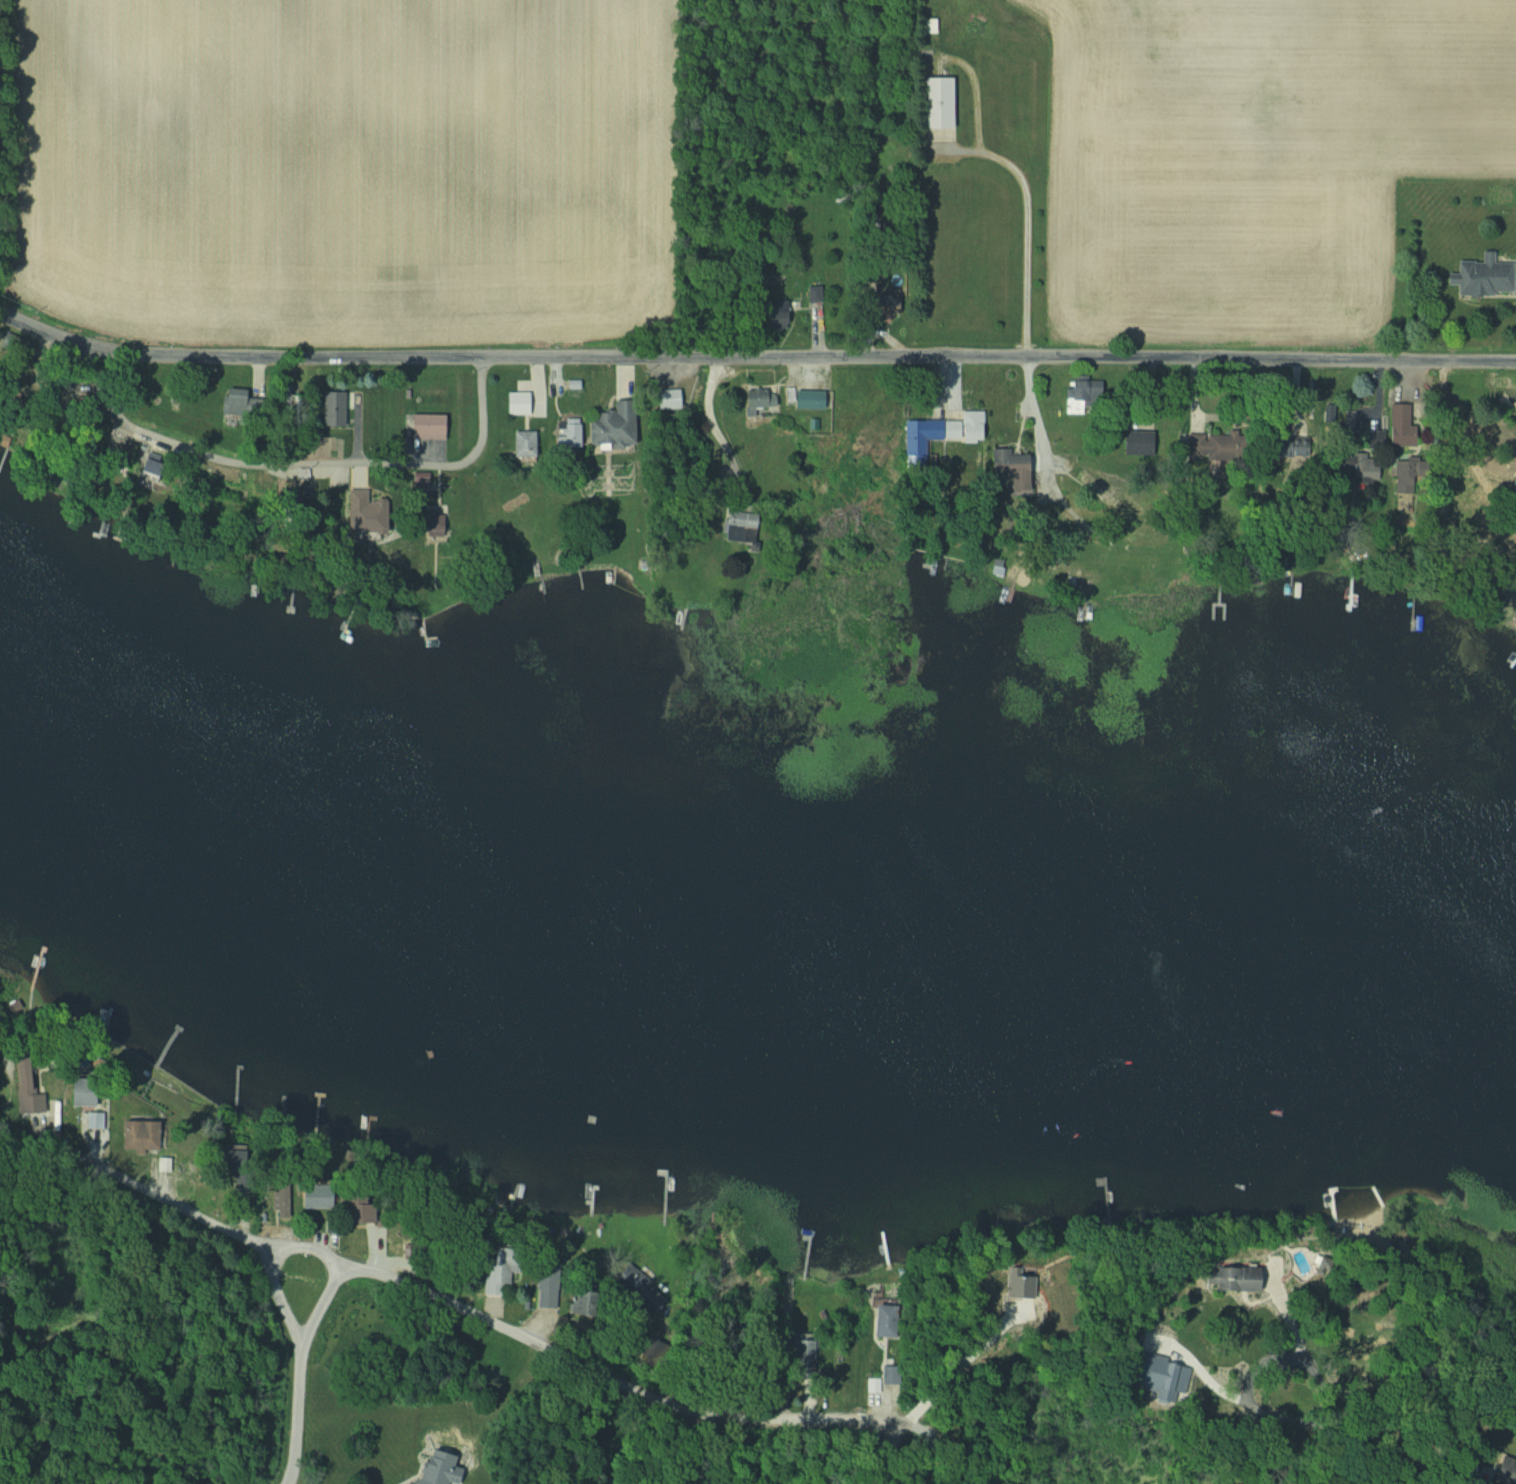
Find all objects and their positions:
building: (932, 25)
building: (944, 101)
road: (1026, 224)
building: (1478, 276)
building: (784, 316)
road: (754, 357)
building: (241, 395)
building: (815, 398)
building: (522, 401)
building: (338, 406)
building: (622, 423)
building: (432, 425)
building: (1397, 425)
building: (951, 428)
building: (574, 432)
building: (532, 442)
building: (1130, 442)
building: (1200, 445)
road: (297, 465)
building: (1359, 465)
building: (1512, 508)
building: (376, 511)
building: (742, 526)
building: (29, 1088)
building: (99, 1119)
building: (147, 1134)
building: (167, 1164)
building: (325, 1196)
building: (287, 1202)
road: (171, 1204)
road: (304, 1247)
building: (503, 1272)
building: (1227, 1278)
building: (551, 1288)
building: (595, 1302)
building: (891, 1321)
road: (593, 1371)
building: (890, 1374)
road: (1332, 1409)
road: (298, 1413)

